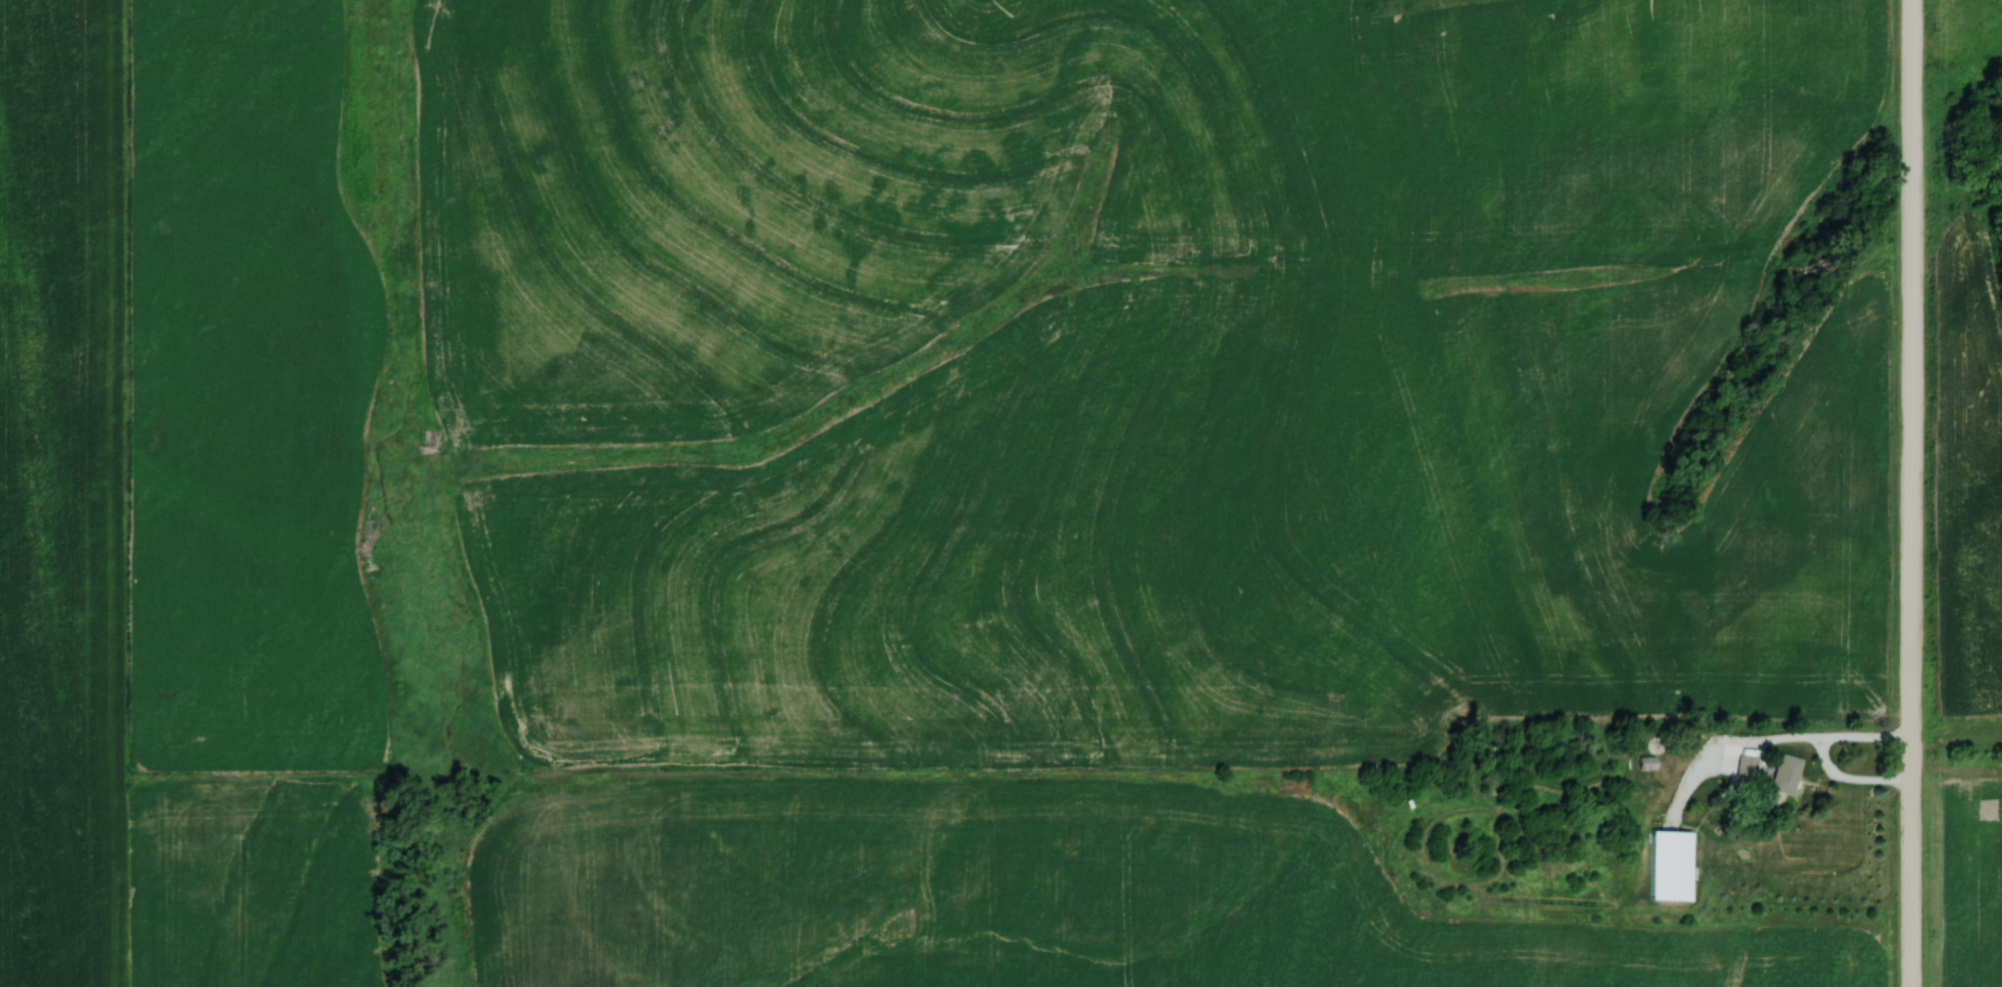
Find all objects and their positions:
road: (1910, 493)
road: (1738, 743)
road: (1821, 753)
building: (1785, 773)
building: (1671, 866)

